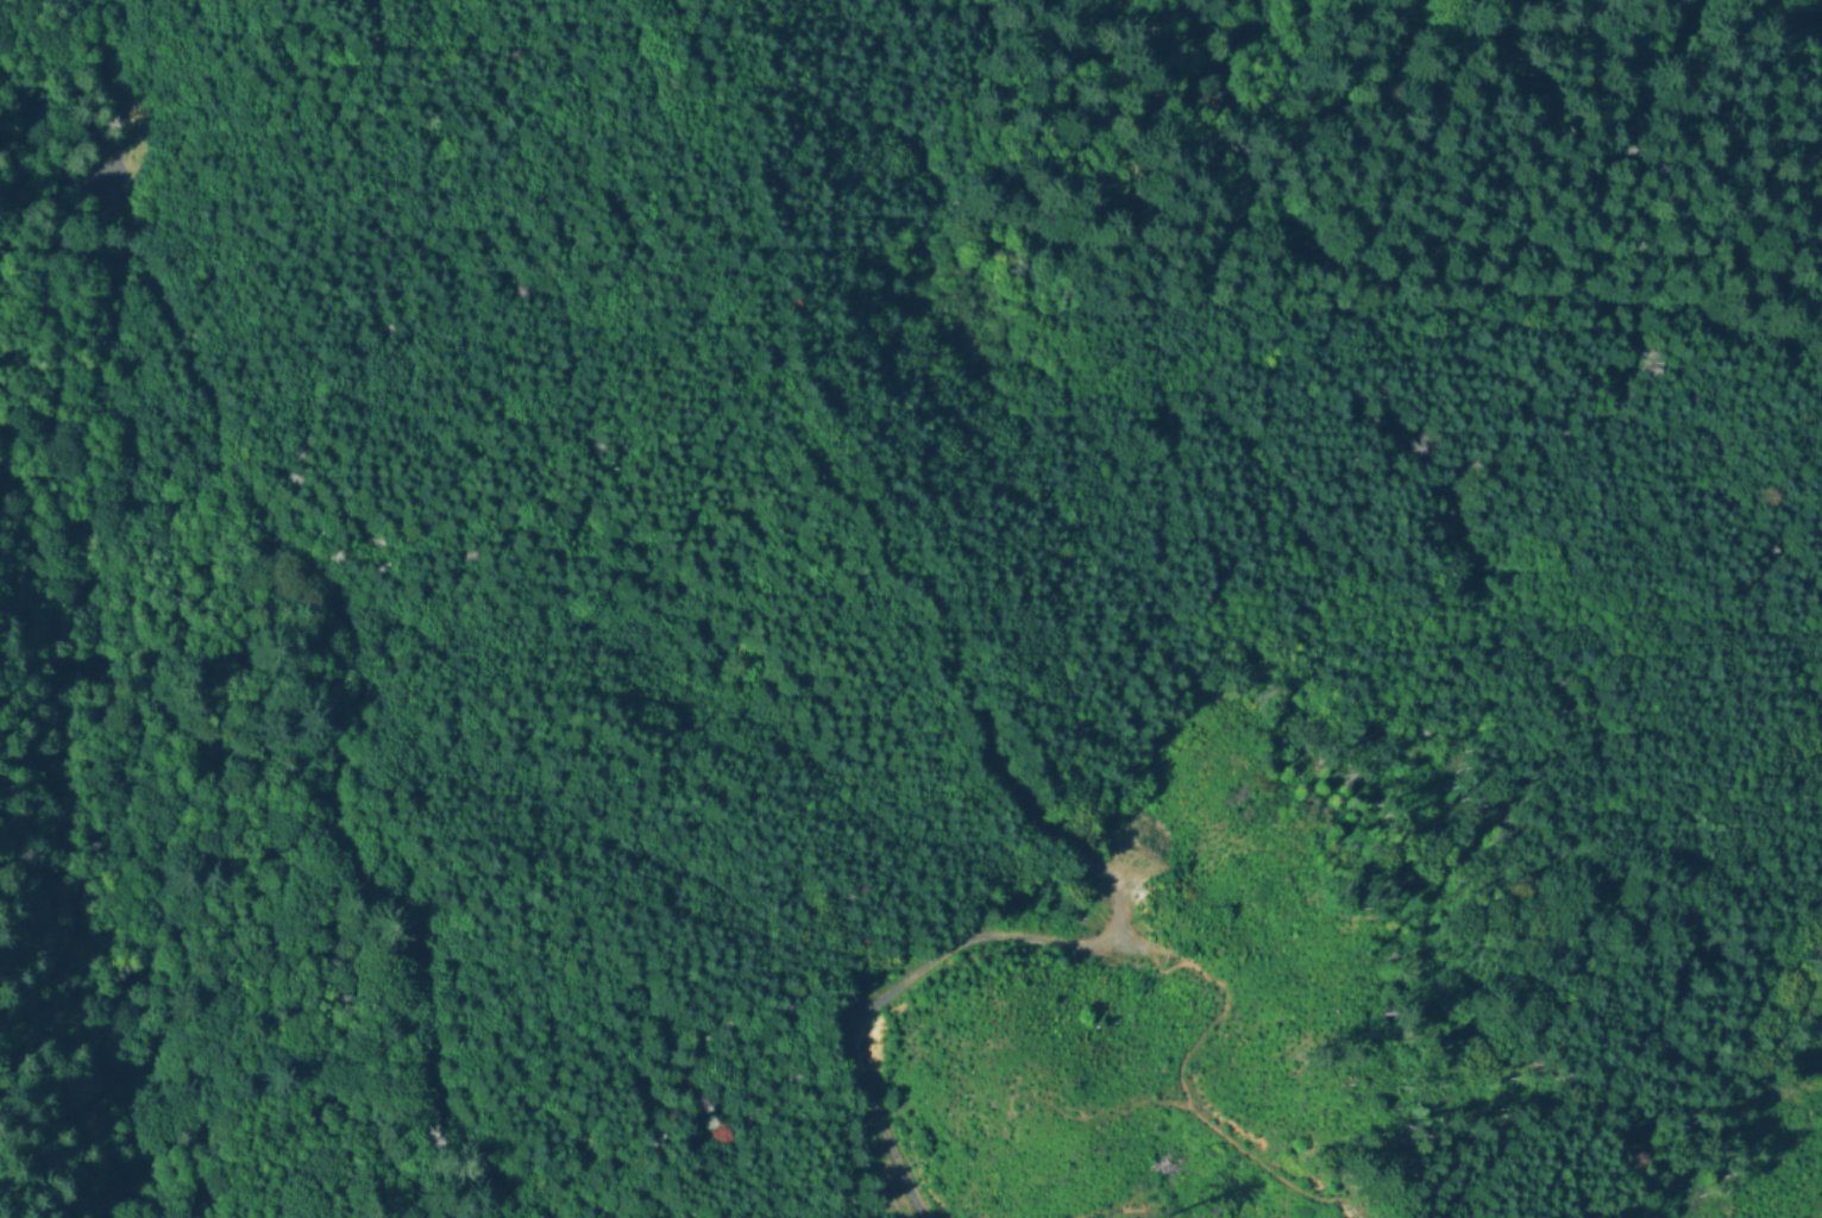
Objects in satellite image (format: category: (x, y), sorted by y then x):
road: (1213, 176)
road: (1613, 291)

